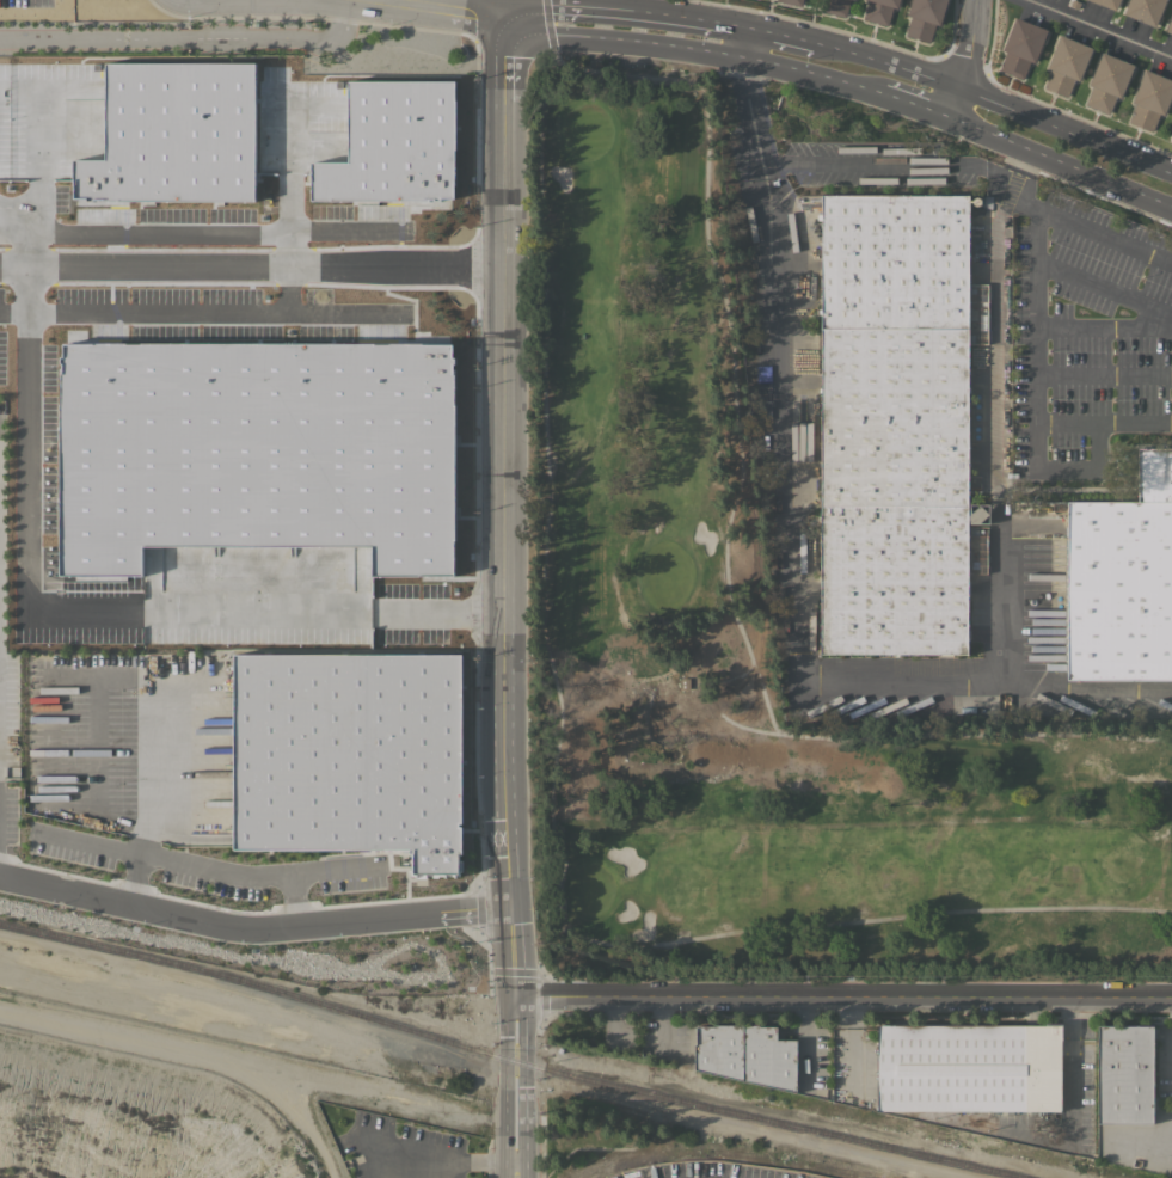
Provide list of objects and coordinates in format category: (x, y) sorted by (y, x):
building: (791, 1)
parking lot: (25, 2)
building: (1106, 4)
building: (835, 6)
road: (602, 7)
road: (441, 8)
road: (492, 8)
building: (879, 10)
building: (1143, 10)
building: (924, 18)
road: (728, 24)
building: (1170, 25)
road: (1097, 29)
road: (528, 31)
road: (772, 31)
road: (548, 32)
road: (191, 39)
road: (743, 43)
building: (1020, 47)
road: (728, 59)
road: (965, 61)
building: (1066, 65)
building: (1106, 81)
road: (987, 94)
building: (1149, 98)
road: (913, 108)
road: (540, 116)
building: (1171, 118)
building: (172, 133)
building: (1171, 136)
building: (391, 143)
road: (1055, 164)
road: (926, 167)
road: (202, 231)
road: (23, 246)
road: (287, 246)
road: (250, 262)
road: (287, 287)
road: (213, 312)
road: (1104, 326)
road: (1104, 376)
road: (1067, 422)
building: (894, 424)
road: (1037, 427)
building: (253, 450)
road: (501, 459)
road: (24, 487)
building: (1122, 579)
road: (254, 608)
road: (435, 609)
park: (753, 637)
road: (904, 675)
road: (704, 698)
road: (142, 716)
road: (953, 731)
road: (93, 743)
building: (349, 756)
road: (217, 866)
road: (865, 919)
road: (254, 921)
road: (518, 951)
road: (847, 1001)
road: (664, 1025)
road: (804, 1044)
building: (702, 1049)
building: (754, 1055)
railway: (511, 1059)
building: (968, 1067)
building: (1124, 1074)
quarry: (157, 1076)
road: (521, 1090)
road: (1073, 1099)
road: (1143, 1141)
parking lot: (400, 1149)
road: (447, 1156)

